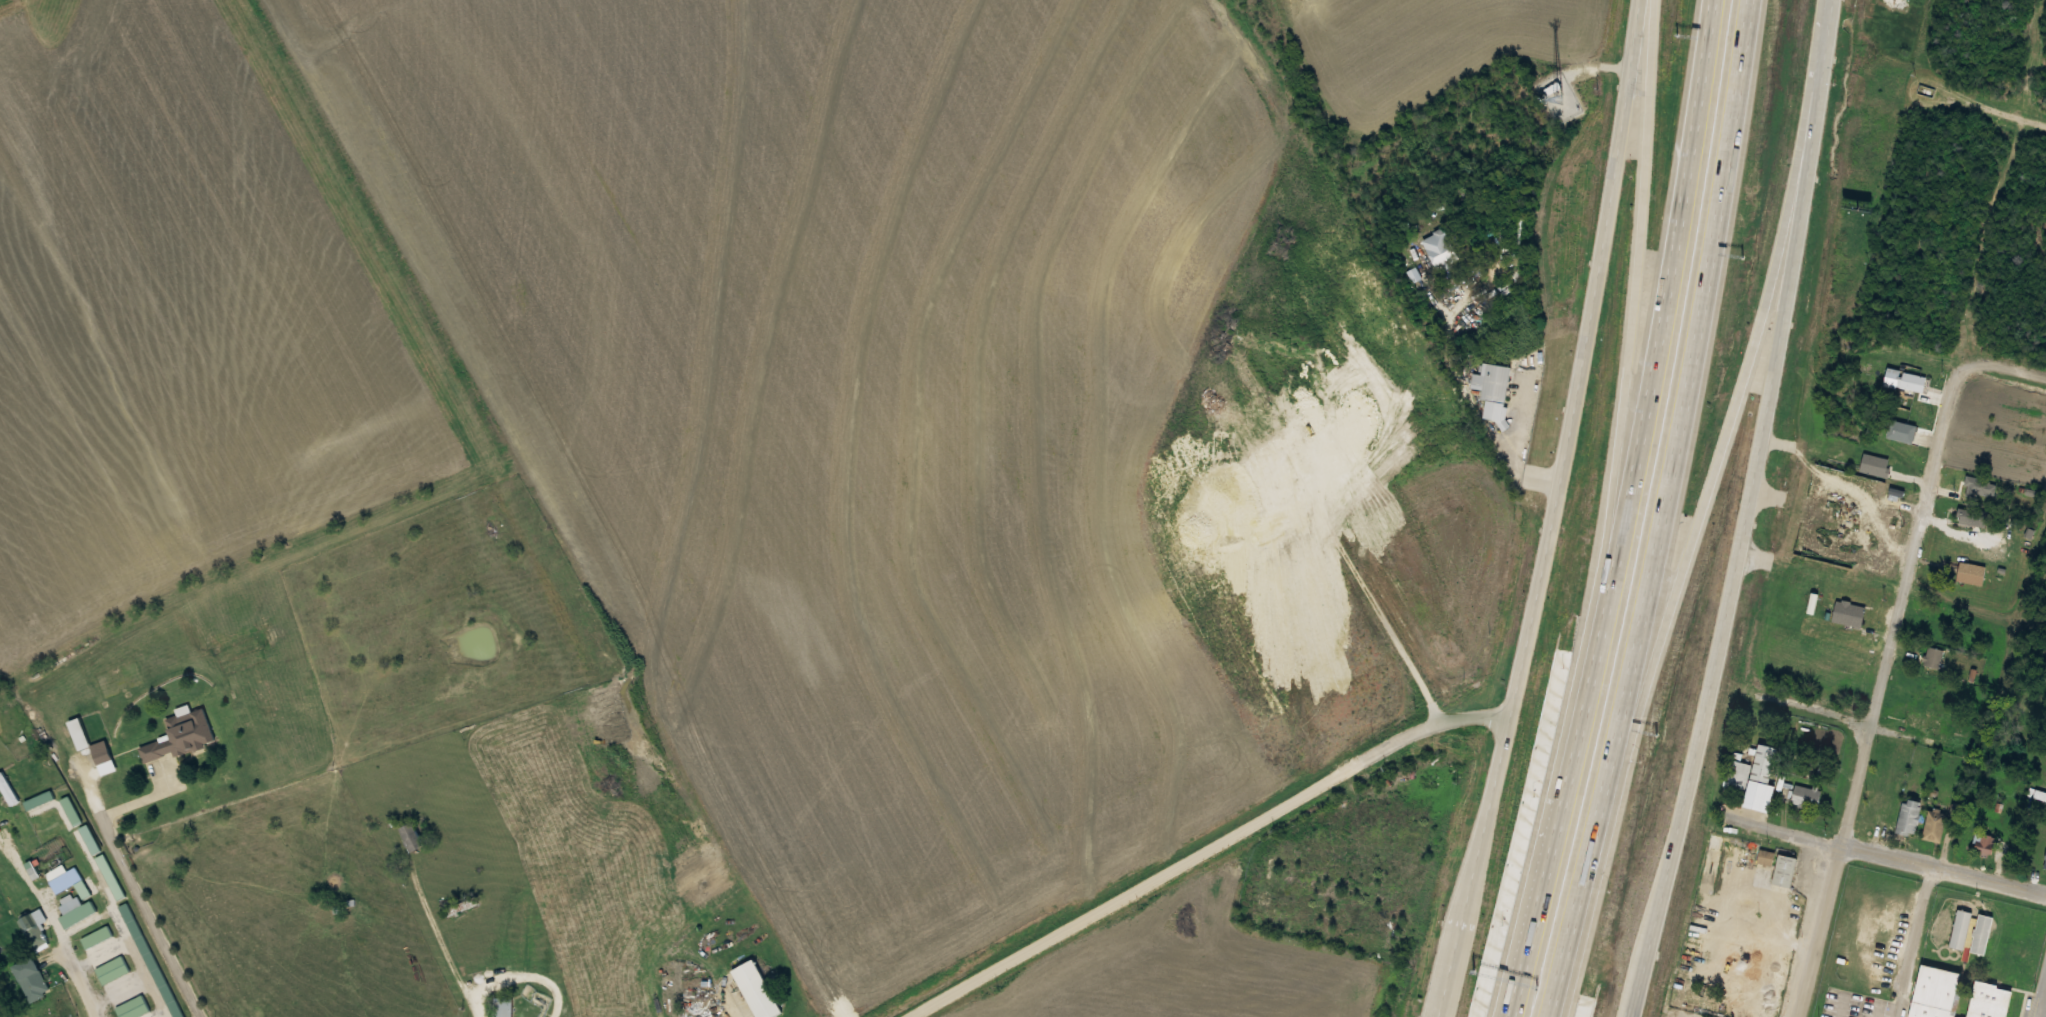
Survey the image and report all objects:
crop: (1426, 48)
road: (1992, 108)
building: (1442, 249)
road: (2008, 367)
building: (1910, 382)
building: (1554, 411)
crop: (865, 417)
building: (1898, 430)
building: (1843, 449)
road: (1619, 455)
building: (1279, 469)
building: (1982, 484)
road: (1556, 510)
road: (1705, 510)
road: (1667, 511)
road: (1749, 511)
road: (1632, 512)
building: (1972, 516)
building: (1879, 532)
building: (1873, 560)
crop: (1443, 571)
building: (1968, 573)
building: (1847, 603)
road: (1375, 604)
building: (1933, 656)
road: (1879, 689)
road: (1815, 710)
building: (1925, 722)
building: (182, 736)
building: (104, 758)
building: (1766, 763)
building: (1738, 773)
building: (2039, 794)
building: (1804, 795)
building: (70, 811)
building: (1907, 816)
building: (1933, 825)
building: (1491, 833)
building: (413, 838)
building: (1982, 844)
building: (1735, 846)
road: (1207, 854)
road: (1881, 854)
building: (2044, 856)
building: (1767, 857)
building: (1782, 870)
building: (68, 881)
road: (1456, 904)
road: (1482, 907)
building: (76, 910)
building: (1494, 913)
road: (147, 917)
road: (1650, 927)
park: (1926, 931)
building: (33, 932)
building: (98, 937)
park: (1869, 950)
building: (151, 960)
building: (114, 970)
building: (34, 979)
building: (758, 990)
building: (1932, 993)
building: (1984, 1000)
building: (1469, 1001)
building: (503, 1007)
building: (135, 1008)
road: (2044, 1012)

